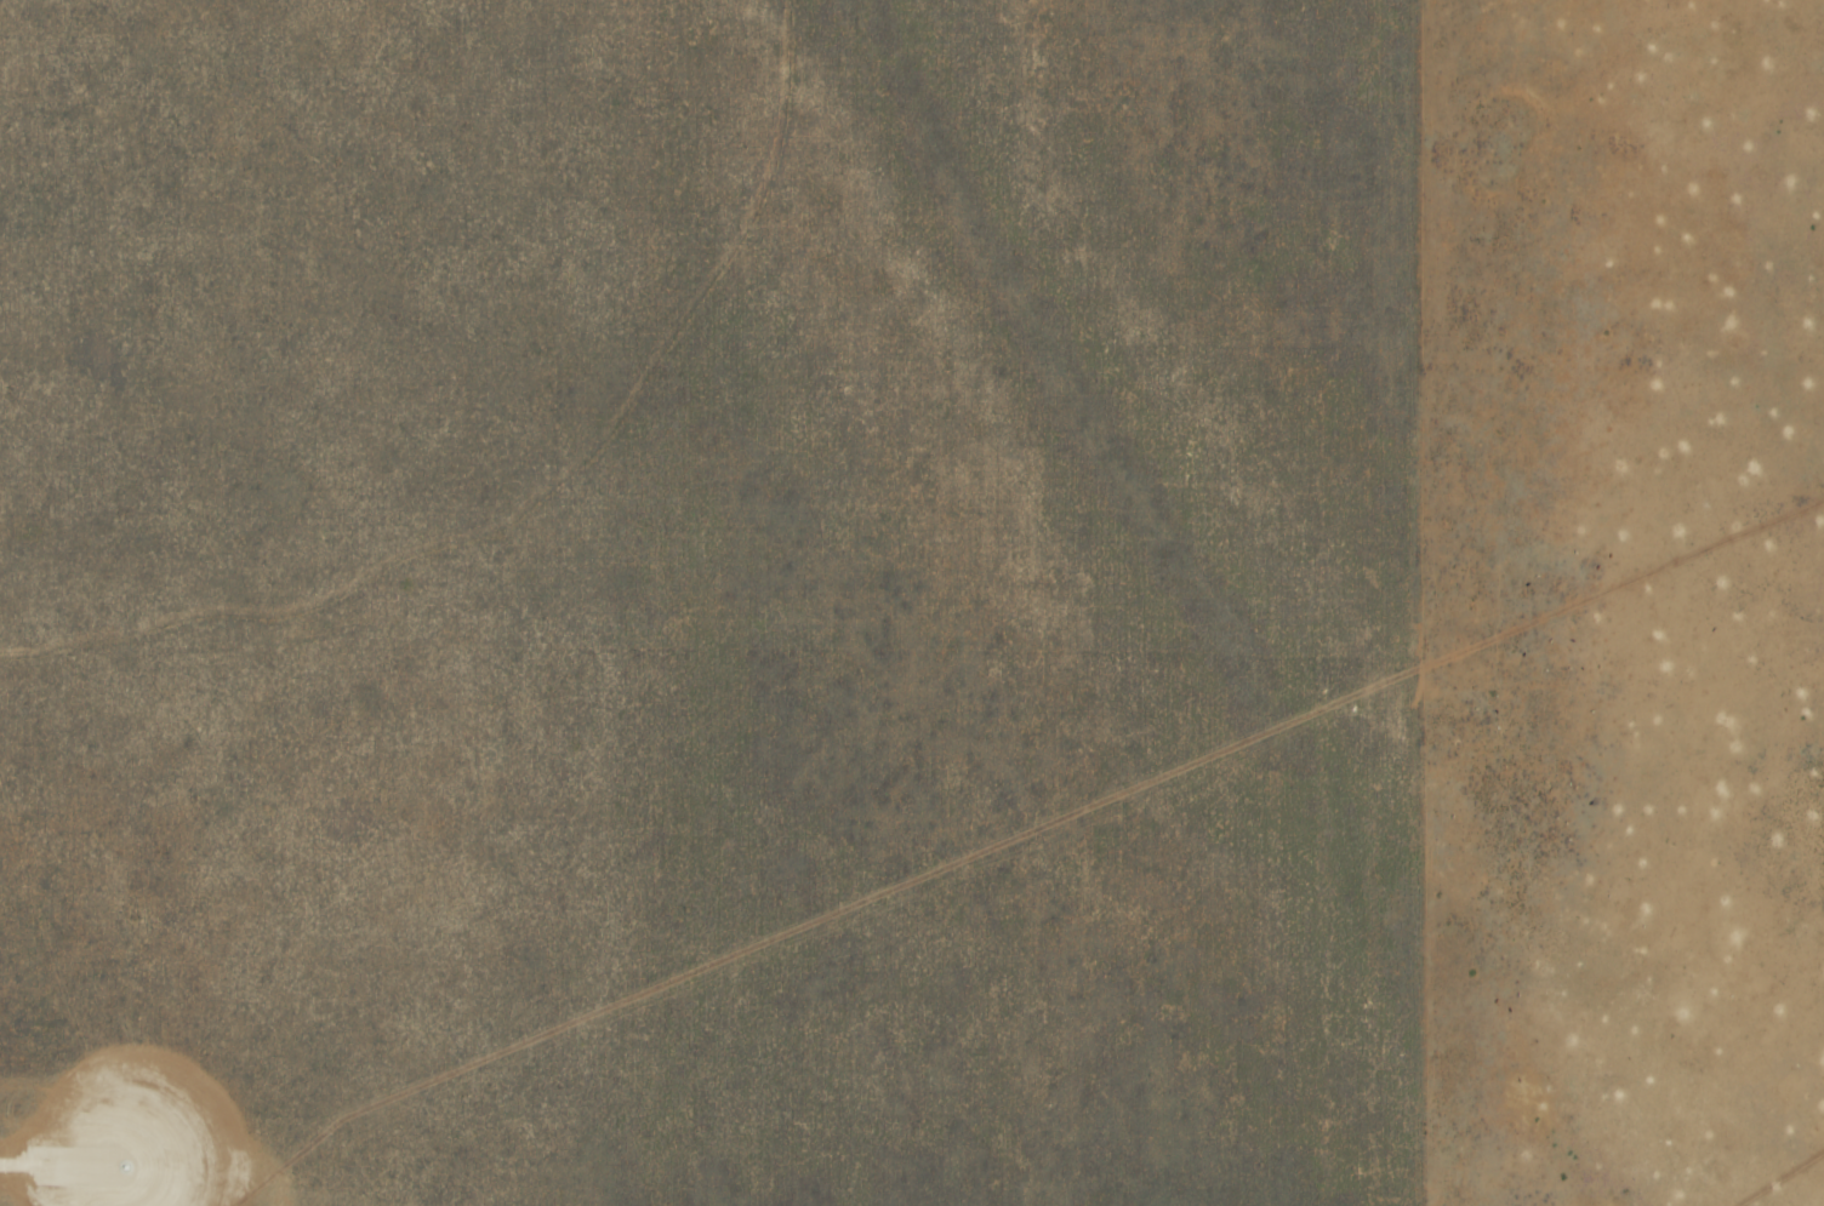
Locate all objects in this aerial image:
wind turbine: (101, 1189)

